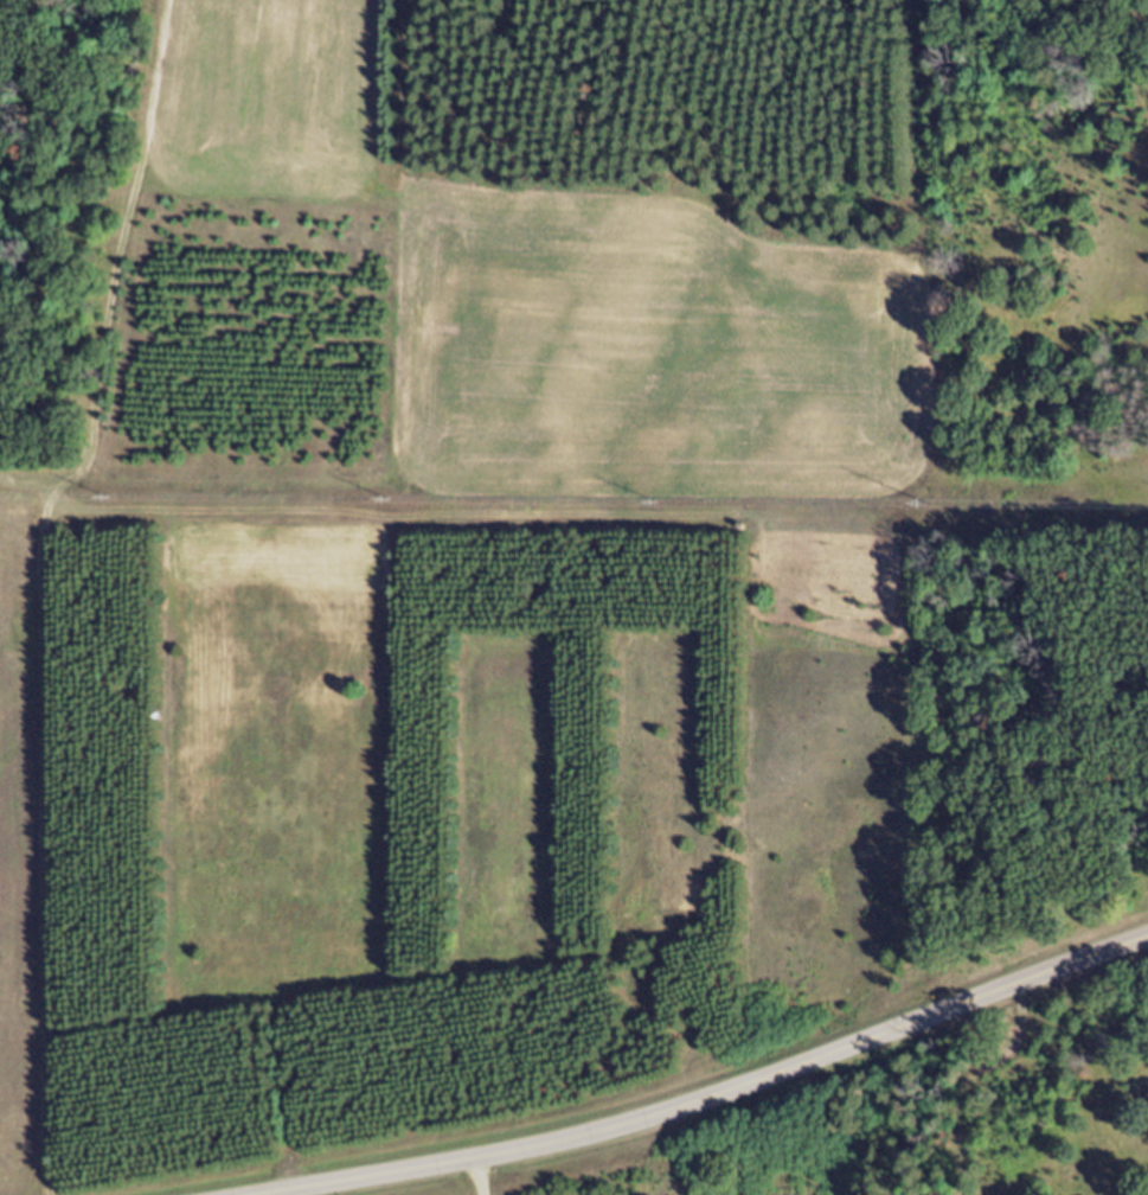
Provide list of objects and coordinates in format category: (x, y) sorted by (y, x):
road: (716, 1097)
road: (473, 1177)

